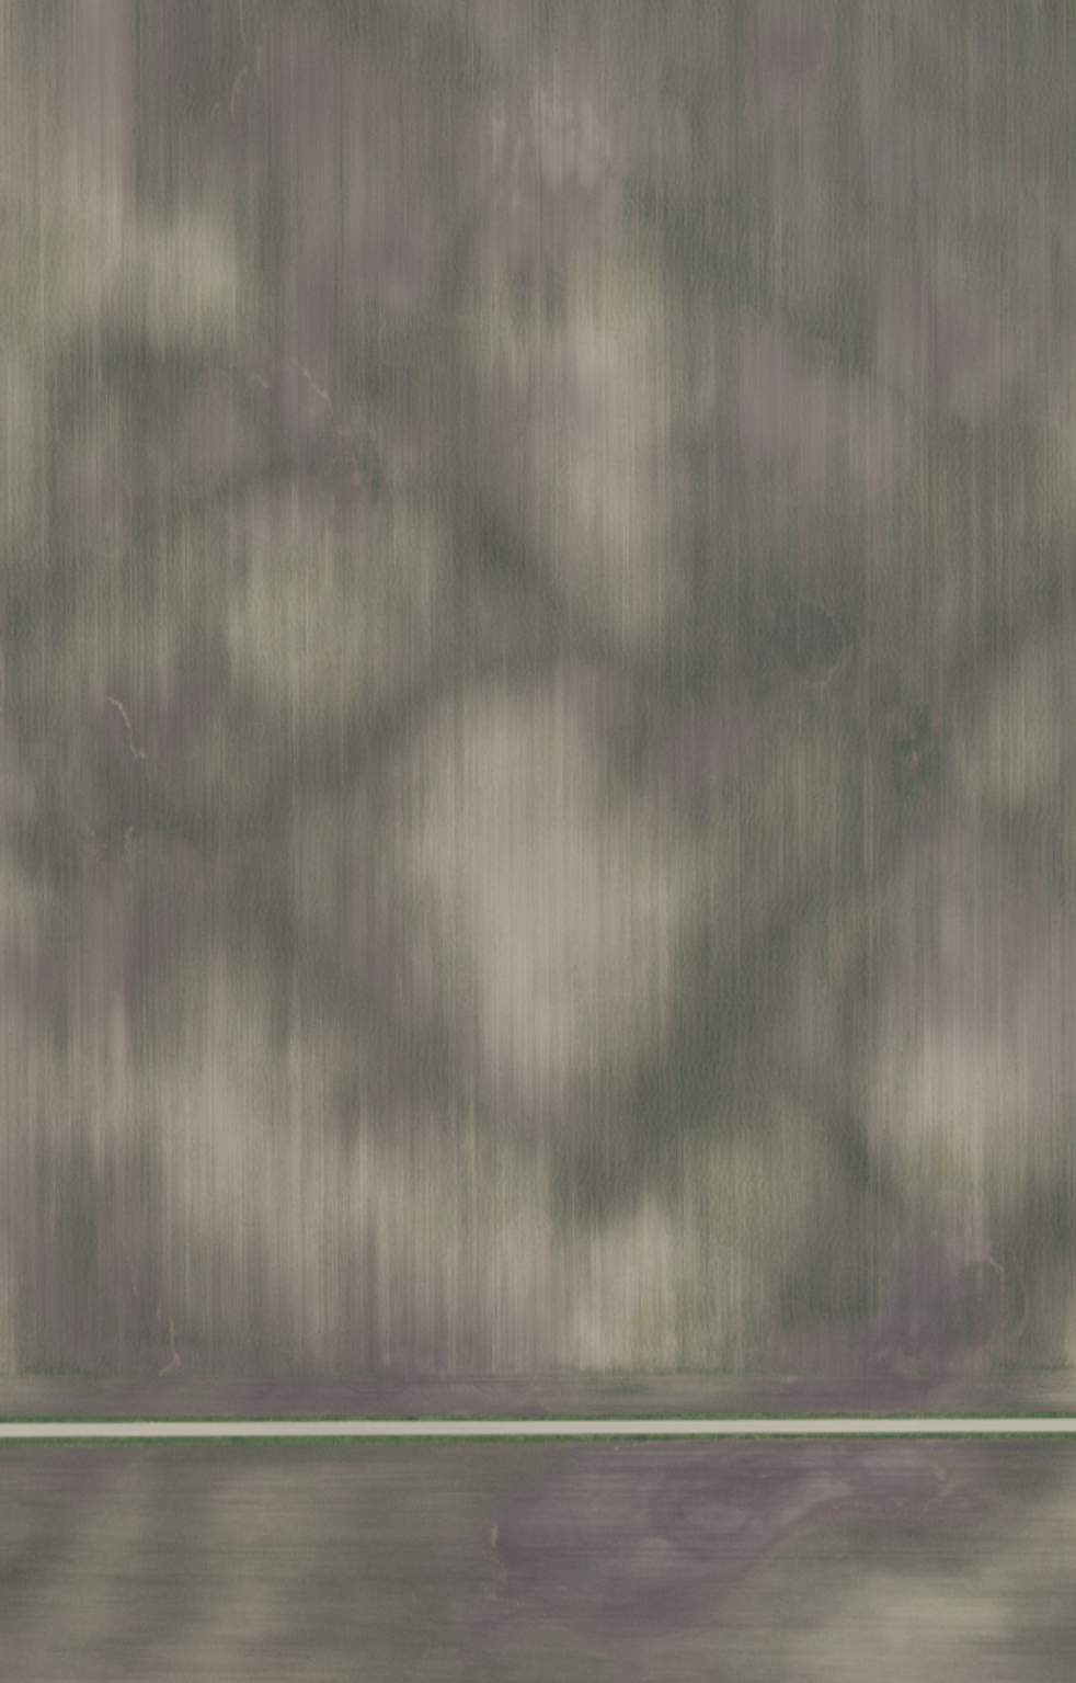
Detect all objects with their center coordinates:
road: (538, 1424)

